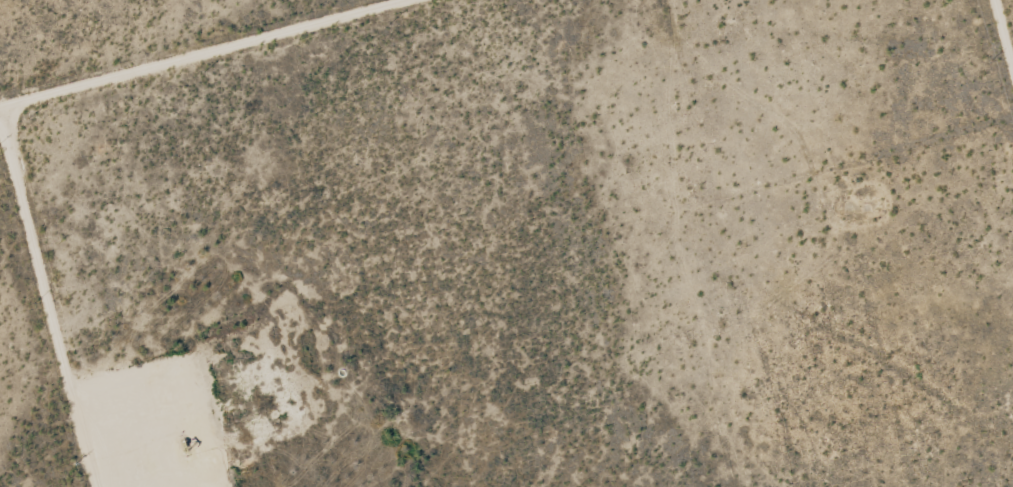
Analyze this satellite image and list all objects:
road: (1000, 45)
road: (197, 52)

